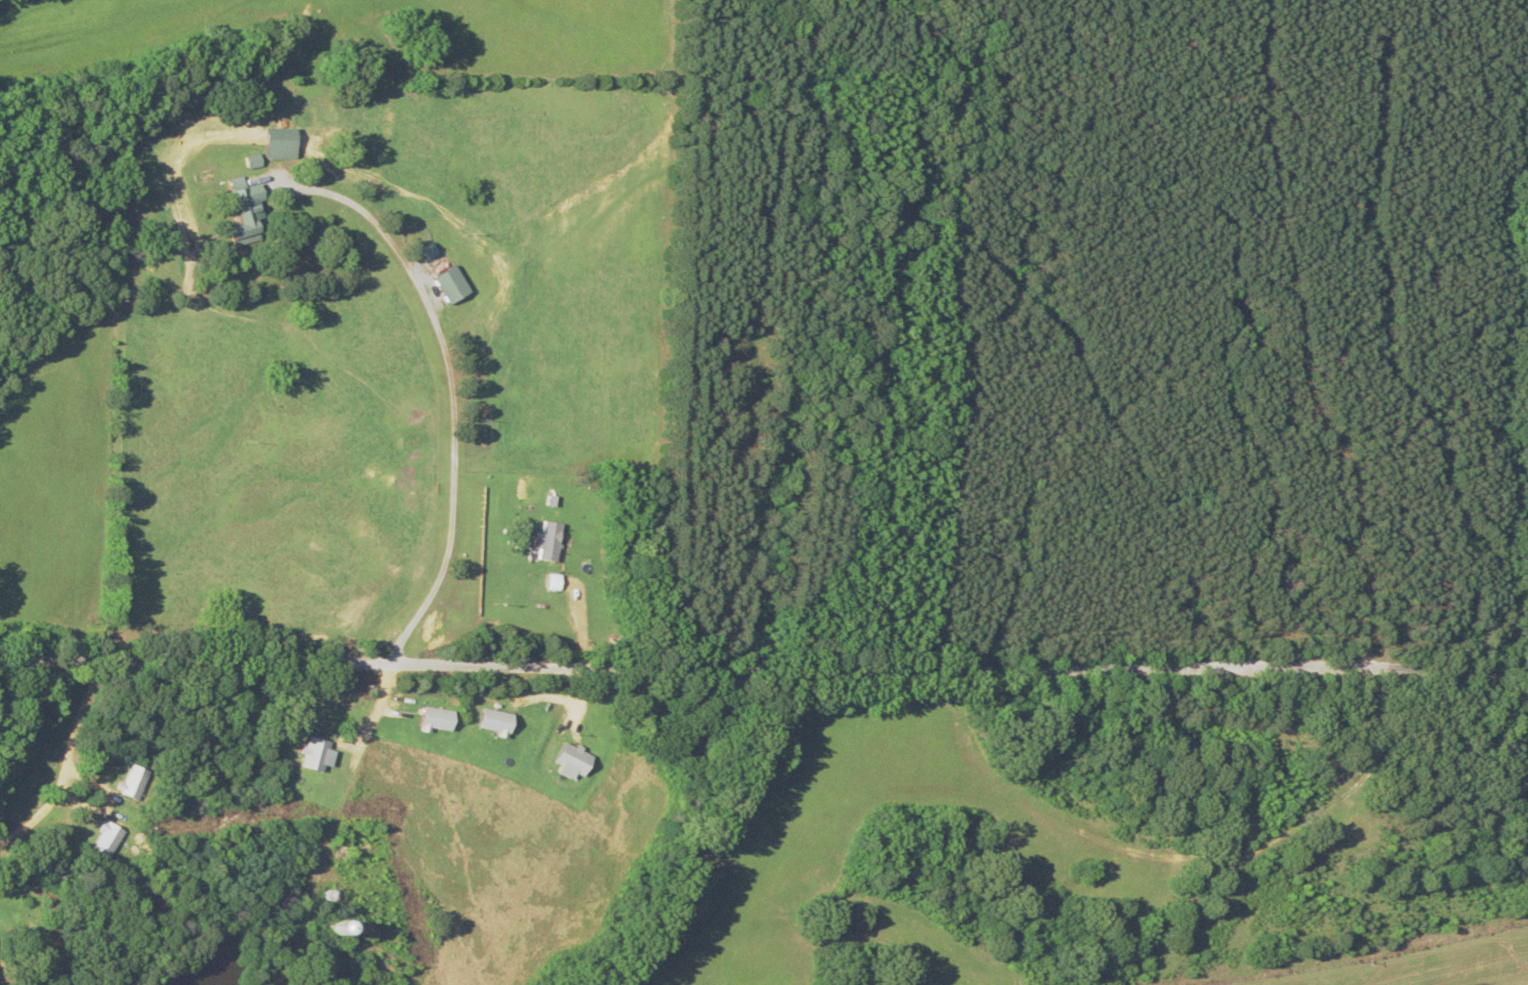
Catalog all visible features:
building: (273, 136)
building: (247, 160)
building: (235, 212)
building: (425, 251)
building: (445, 284)
road: (453, 389)
building: (549, 540)
building: (554, 580)
road: (763, 672)
road: (44, 699)
building: (434, 719)
building: (494, 720)
building: (312, 754)
building: (571, 760)
building: (131, 782)
road: (335, 824)
building: (106, 840)
storage tank: (327, 894)
storage tank: (321, 929)
building: (327, 930)

